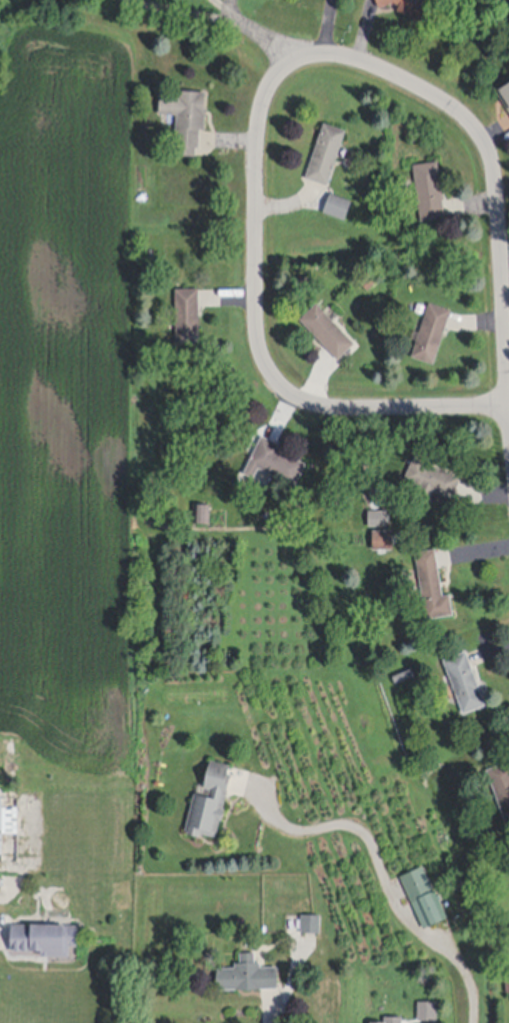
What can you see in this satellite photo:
building: (418, 5)
road: (224, 9)
road: (181, 12)
road: (265, 43)
road: (314, 59)
building: (503, 82)
building: (504, 95)
building: (186, 113)
building: (325, 148)
building: (429, 185)
building: (337, 200)
building: (147, 249)
building: (368, 276)
building: (187, 312)
building: (327, 327)
building: (431, 328)
building: (274, 458)
building: (431, 475)
building: (201, 511)
building: (382, 536)
building: (432, 582)
building: (403, 673)
building: (464, 679)
building: (379, 765)
building: (501, 783)
building: (209, 798)
building: (9, 828)
building: (0, 879)
road: (379, 879)
building: (460, 883)
building: (423, 895)
building: (309, 919)
building: (44, 934)
building: (247, 972)
building: (507, 984)
building: (427, 1007)
building: (388, 1018)

